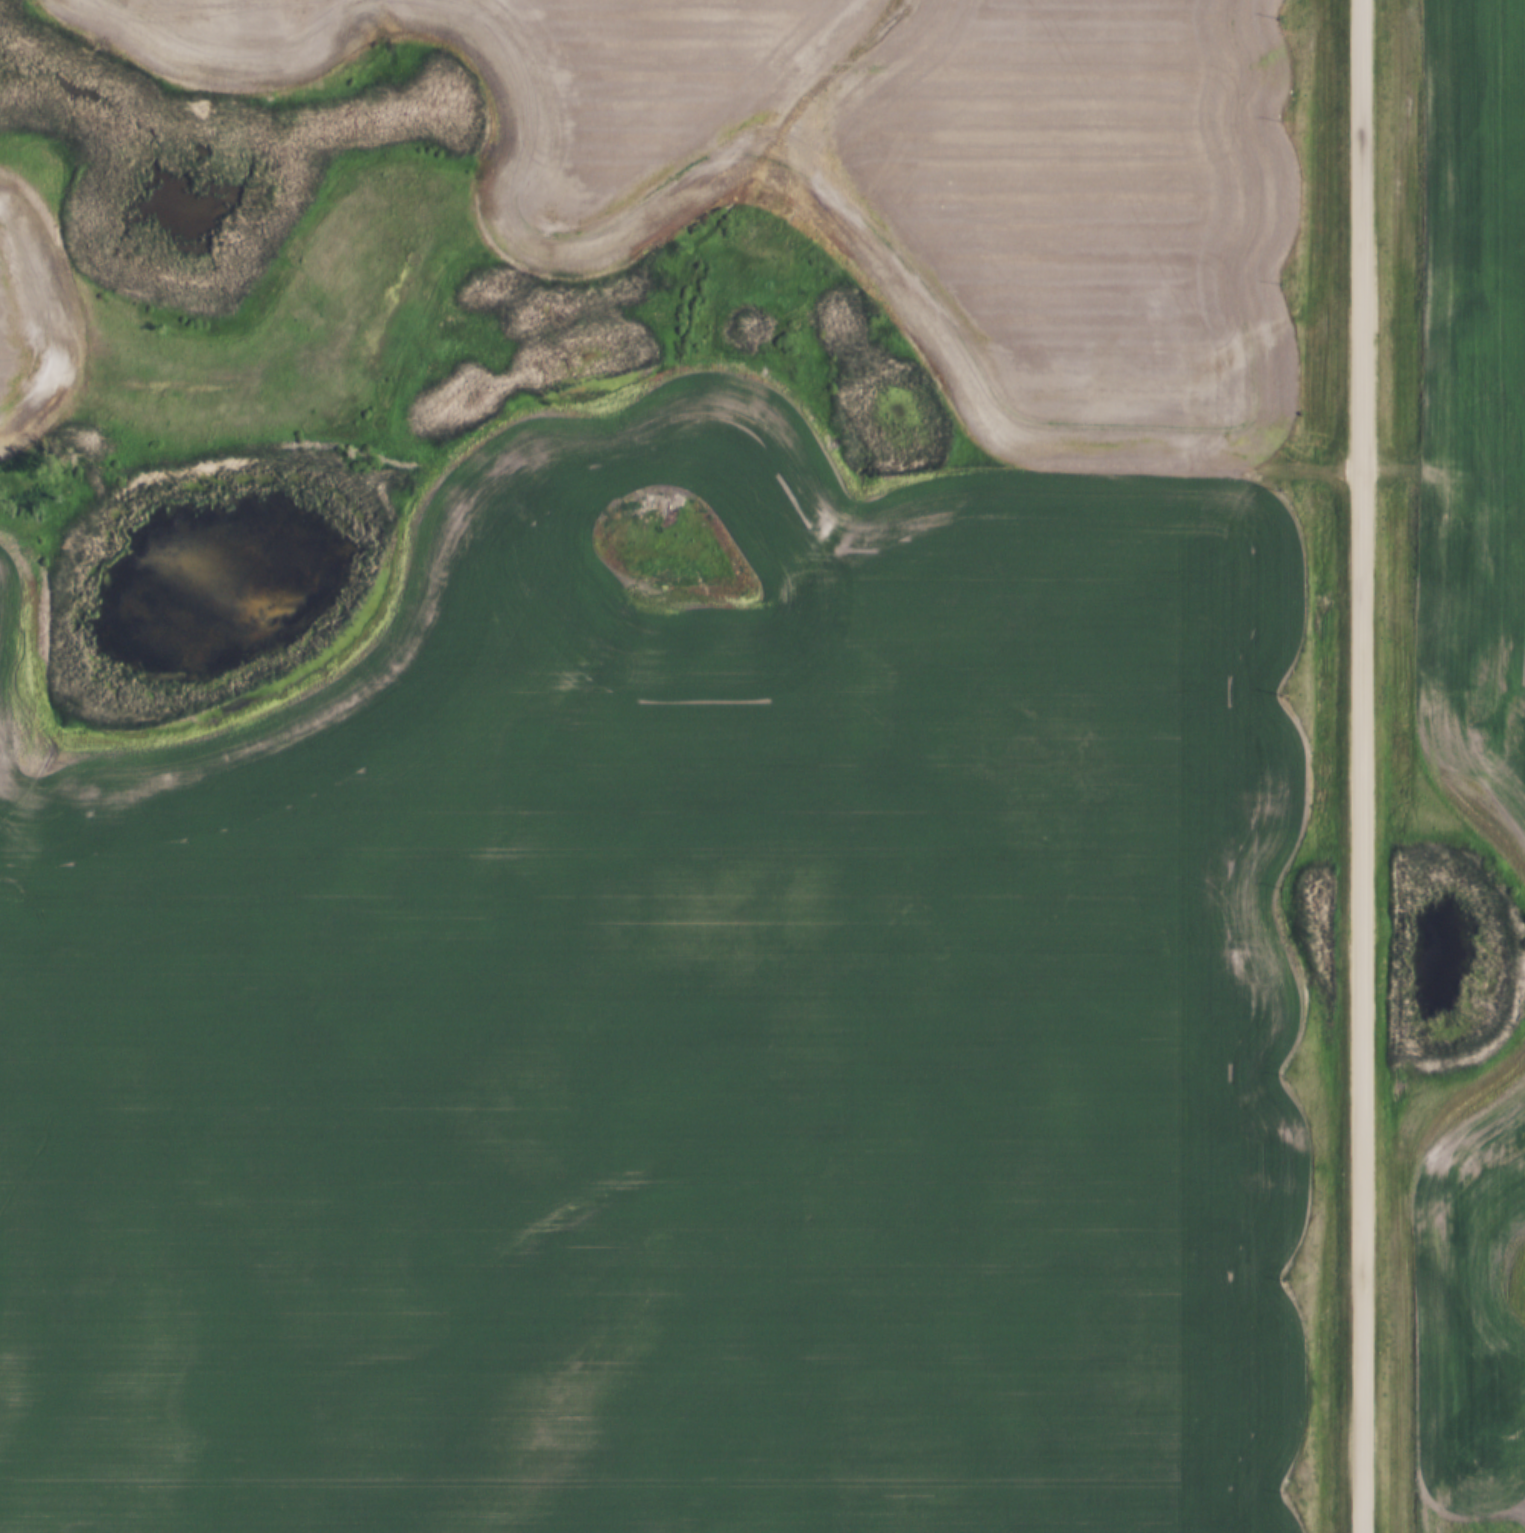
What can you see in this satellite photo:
road: (1363, 766)

